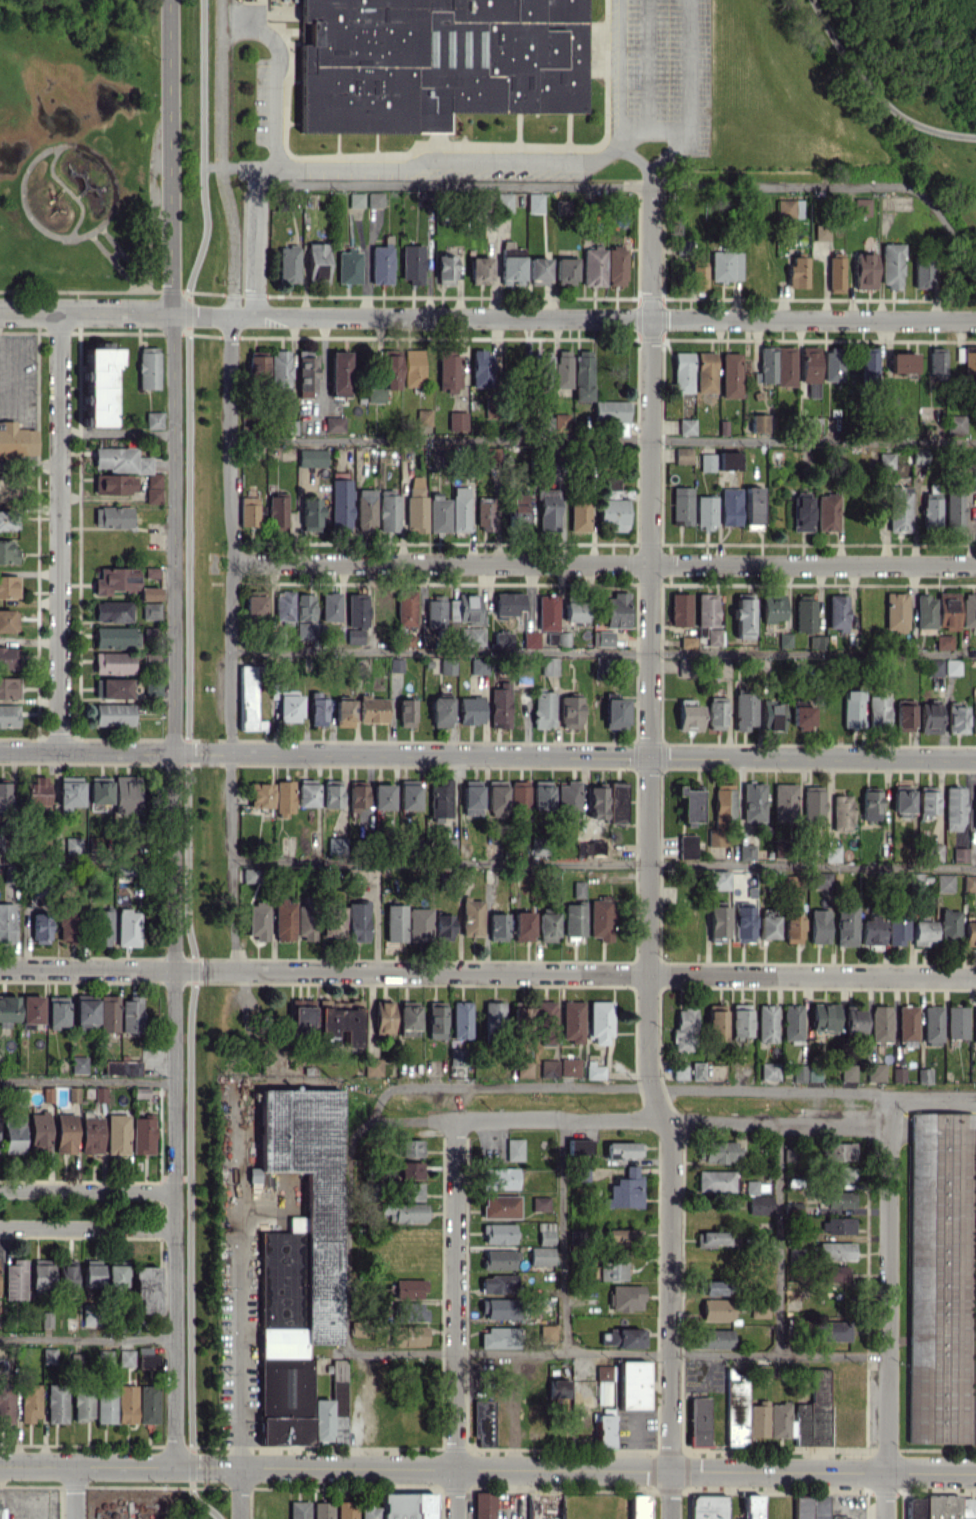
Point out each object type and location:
building: (435, 61)
road: (618, 63)
parking lot: (663, 73)
road: (875, 93)
road: (686, 94)
road: (652, 127)
road: (203, 146)
park: (80, 149)
road: (633, 156)
road: (170, 158)
road: (367, 165)
road: (579, 185)
building: (374, 199)
building: (355, 200)
building: (503, 202)
building: (534, 203)
building: (860, 206)
building: (563, 207)
building: (785, 207)
road: (942, 221)
building: (821, 231)
building: (684, 245)
road: (257, 251)
building: (317, 262)
building: (381, 262)
building: (288, 263)
building: (412, 263)
building: (511, 263)
building: (348, 265)
building: (615, 265)
building: (725, 265)
building: (593, 266)
building: (892, 266)
building: (444, 269)
building: (479, 269)
building: (538, 270)
building: (864, 270)
building: (565, 271)
building: (797, 271)
building: (922, 273)
building: (835, 274)
building: (696, 276)
road: (188, 310)
road: (114, 315)
road: (602, 318)
building: (969, 360)
building: (868, 363)
building: (541, 364)
building: (767, 364)
building: (832, 364)
building: (902, 364)
building: (935, 365)
building: (785, 366)
building: (148, 367)
building: (413, 367)
building: (481, 368)
building: (562, 368)
building: (705, 368)
building: (257, 369)
building: (280, 369)
building: (809, 369)
building: (305, 370)
building: (449, 371)
building: (681, 371)
building: (384, 373)
building: (339, 374)
building: (730, 374)
building: (582, 376)
building: (99, 385)
building: (612, 414)
building: (153, 419)
building: (457, 420)
building: (758, 422)
building: (334, 424)
building: (811, 425)
building: (956, 425)
building: (289, 426)
building: (686, 426)
road: (115, 432)
road: (603, 439)
building: (16, 440)
building: (493, 455)
building: (682, 455)
building: (311, 457)
building: (728, 460)
building: (885, 460)
building: (706, 462)
road: (29, 464)
building: (130, 467)
building: (608, 483)
building: (6, 490)
building: (340, 503)
building: (416, 505)
building: (752, 505)
building: (681, 506)
building: (729, 506)
building: (460, 509)
building: (548, 509)
building: (898, 509)
building: (366, 510)
building: (388, 510)
building: (518, 510)
building: (954, 510)
building: (248, 511)
building: (705, 511)
building: (827, 512)
building: (277, 513)
building: (439, 513)
building: (613, 513)
building: (311, 514)
building: (485, 514)
building: (801, 514)
building: (579, 515)
building: (112, 518)
building: (8, 519)
road: (59, 534)
building: (8, 553)
road: (603, 563)
building: (153, 572)
building: (115, 580)
building: (8, 586)
building: (148, 593)
building: (509, 603)
building: (255, 606)
building: (330, 606)
building: (283, 607)
building: (305, 607)
building: (405, 608)
building: (464, 608)
building: (771, 608)
building: (680, 609)
building: (706, 609)
building: (150, 610)
building: (615, 610)
building: (947, 610)
building: (968, 610)
building: (112, 611)
building: (435, 611)
building: (574, 611)
building: (895, 611)
building: (925, 611)
building: (547, 612)
building: (837, 612)
building: (804, 613)
building: (742, 615)
building: (356, 618)
building: (8, 620)
building: (471, 635)
building: (113, 637)
building: (714, 637)
building: (603, 638)
building: (501, 639)
building: (530, 639)
building: (407, 640)
building: (687, 641)
building: (816, 641)
road: (231, 642)
building: (943, 642)
road: (603, 650)
building: (8, 657)
building: (149, 659)
building: (113, 662)
building: (395, 664)
building: (447, 666)
building: (478, 666)
building: (550, 666)
building: (601, 666)
building: (951, 666)
building: (934, 667)
building: (9, 687)
building: (112, 688)
building: (248, 699)
building: (500, 704)
building: (287, 705)
building: (317, 708)
building: (851, 708)
building: (543, 709)
building: (371, 710)
building: (469, 710)
building: (744, 710)
building: (441, 711)
building: (570, 711)
building: (879, 711)
building: (343, 712)
building: (406, 712)
building: (614, 712)
building: (716, 712)
building: (113, 714)
building: (8, 715)
building: (771, 715)
building: (801, 716)
building: (689, 717)
building: (904, 717)
building: (929, 718)
building: (956, 718)
building: (973, 724)
road: (487, 756)
railway: (204, 759)
building: (99, 789)
building: (36, 790)
building: (69, 791)
building: (125, 792)
building: (332, 793)
building: (4, 794)
building: (306, 794)
building: (357, 794)
building: (408, 794)
building: (261, 795)
building: (541, 795)
building: (382, 796)
building: (496, 796)
building: (471, 797)
building: (569, 797)
building: (284, 798)
building: (902, 798)
building: (440, 799)
building: (520, 799)
building: (926, 801)
building: (596, 802)
building: (617, 802)
building: (784, 802)
building: (752, 803)
building: (812, 804)
building: (690, 805)
building: (869, 805)
building: (954, 808)
building: (974, 808)
building: (841, 812)
building: (721, 813)
building: (0, 834)
building: (72, 844)
building: (336, 845)
building: (447, 846)
building: (687, 846)
building: (590, 848)
building: (746, 851)
building: (934, 852)
road: (648, 854)
building: (831, 854)
building: (959, 855)
road: (87, 857)
road: (603, 862)
building: (821, 879)
building: (717, 880)
building: (944, 882)
building: (969, 883)
building: (577, 889)
road: (173, 891)
building: (472, 916)
building: (306, 918)
building: (601, 918)
building: (574, 919)
building: (69, 920)
building: (258, 920)
building: (284, 920)
building: (357, 921)
building: (395, 922)
building: (6, 923)
building: (717, 923)
building: (419, 924)
building: (743, 924)
building: (767, 925)
building: (845, 925)
building: (949, 925)
building: (442, 926)
building: (497, 926)
building: (522, 926)
building: (818, 926)
building: (102, 927)
building: (127, 927)
building: (547, 927)
building: (40, 928)
building: (792, 929)
building: (871, 929)
building: (896, 930)
road: (188, 932)
building: (922, 933)
building: (969, 933)
road: (488, 972)
building: (31, 1009)
building: (8, 1010)
building: (56, 1011)
building: (85, 1011)
building: (109, 1013)
building: (131, 1015)
building: (301, 1015)
building: (383, 1016)
building: (494, 1016)
building: (823, 1017)
building: (409, 1018)
building: (537, 1018)
building: (461, 1019)
building: (436, 1020)
building: (739, 1020)
building: (853, 1020)
building: (600, 1021)
building: (572, 1022)
building: (715, 1022)
building: (793, 1022)
building: (956, 1022)
building: (339, 1023)
building: (766, 1023)
building: (880, 1023)
building: (974, 1023)
building: (906, 1025)
building: (932, 1025)
building: (684, 1028)
building: (0, 1057)
building: (457, 1057)
building: (78, 1064)
building: (122, 1067)
building: (373, 1067)
building: (570, 1067)
building: (524, 1068)
building: (549, 1068)
building: (594, 1070)
building: (697, 1070)
building: (769, 1071)
building: (679, 1072)
building: (847, 1072)
building: (875, 1072)
building: (806, 1073)
building: (898, 1074)
building: (923, 1075)
road: (87, 1081)
road: (646, 1087)
road: (932, 1093)
building: (47, 1094)
building: (73, 1094)
building: (100, 1094)
building: (19, 1096)
road: (379, 1098)
road: (628, 1120)
building: (13, 1133)
building: (65, 1133)
building: (91, 1134)
building: (117, 1134)
building: (143, 1135)
building: (579, 1147)
building: (408, 1148)
building: (514, 1149)
building: (623, 1149)
building: (716, 1151)
building: (839, 1151)
building: (790, 1154)
building: (408, 1169)
building: (581, 1173)
building: (842, 1173)
building: (501, 1178)
building: (715, 1180)
road: (87, 1189)
building: (625, 1190)
building: (412, 1191)
building: (838, 1200)
building: (540, 1203)
building: (760, 1204)
building: (500, 1206)
building: (792, 1209)
building: (404, 1211)
building: (301, 1222)
building: (837, 1225)
road: (87, 1228)
road: (348, 1233)
building: (498, 1233)
building: (545, 1233)
road: (565, 1237)
building: (575, 1237)
building: (620, 1237)
building: (716, 1238)
road: (777, 1239)
building: (835, 1250)
building: (541, 1256)
building: (497, 1259)
building: (612, 1271)
building: (92, 1272)
building: (41, 1274)
building: (835, 1274)
building: (67, 1275)
building: (115, 1275)
building: (15, 1279)
building: (941, 1279)
building: (498, 1284)
road: (238, 1285)
building: (715, 1287)
building: (146, 1288)
building: (409, 1288)
building: (626, 1297)
road: (887, 1306)
building: (759, 1308)
building: (716, 1309)
building: (413, 1311)
building: (89, 1318)
building: (46, 1319)
road: (455, 1319)
building: (833, 1331)
building: (546, 1332)
building: (408, 1335)
building: (498, 1337)
building: (623, 1337)
road: (87, 1338)
building: (714, 1338)
road: (610, 1354)
building: (49, 1355)
building: (104, 1356)
building: (125, 1357)
building: (147, 1357)
building: (604, 1373)
building: (632, 1384)
building: (557, 1388)
building: (284, 1400)
building: (6, 1402)
building: (30, 1402)
building: (56, 1403)
building: (126, 1403)
building: (81, 1404)
building: (148, 1404)
building: (105, 1405)
building: (332, 1408)
building: (736, 1408)
building: (814, 1412)
building: (779, 1419)
building: (700, 1420)
building: (757, 1421)
building: (483, 1422)
building: (604, 1431)
road: (87, 1465)
road: (574, 1470)
road: (74, 1492)
road: (239, 1493)
building: (407, 1505)
building: (483, 1505)
building: (544, 1506)
building: (640, 1506)
building: (751, 1506)
building: (708, 1507)
building: (802, 1507)
building: (821, 1507)
building: (940, 1507)
building: (299, 1509)
building: (346, 1509)
building: (322, 1510)
building: (370, 1512)
building: (839, 1516)

